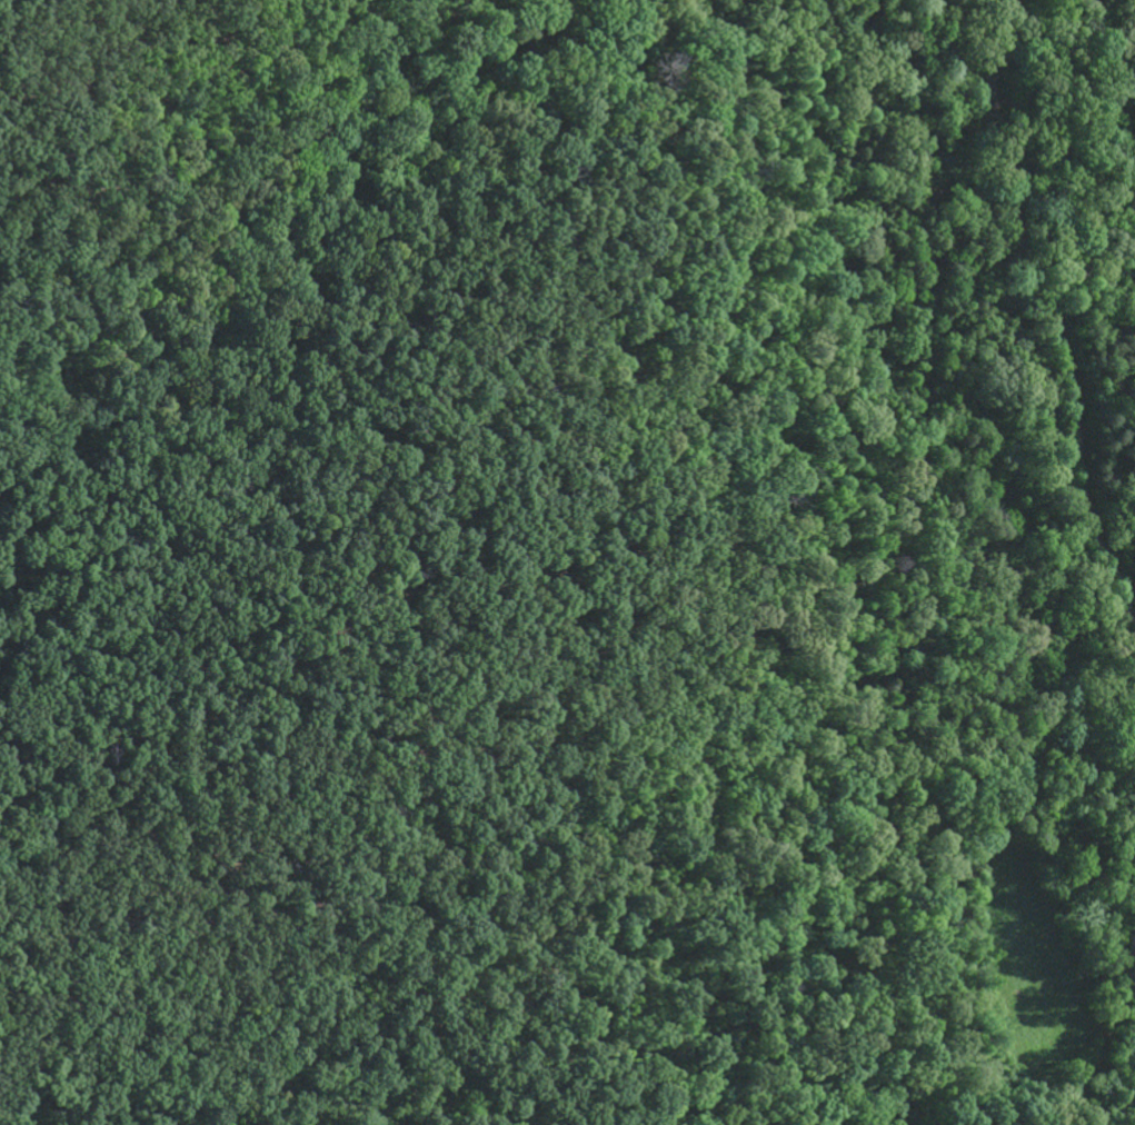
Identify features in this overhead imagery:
road: (1053, 308)

